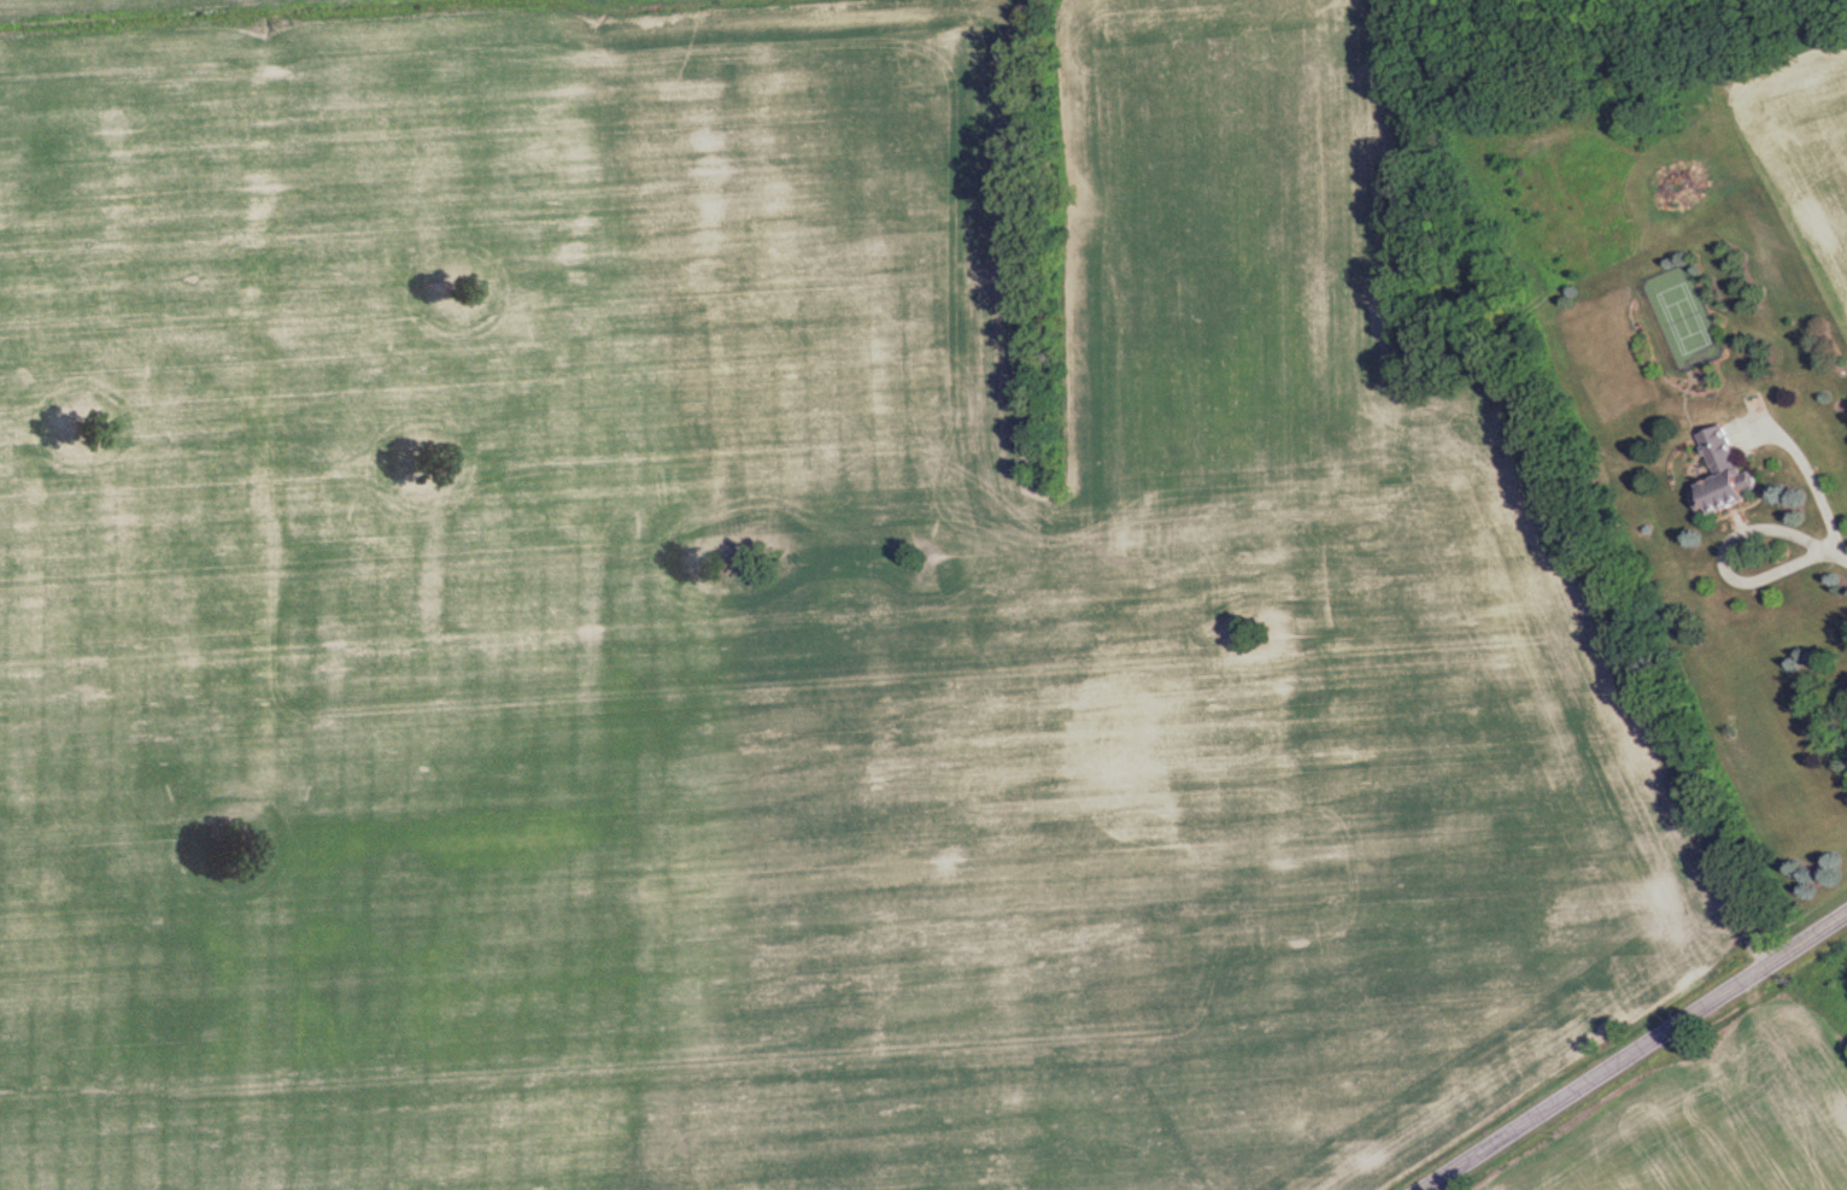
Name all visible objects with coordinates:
building: (1723, 468)
road: (1798, 540)
road: (1631, 1049)

